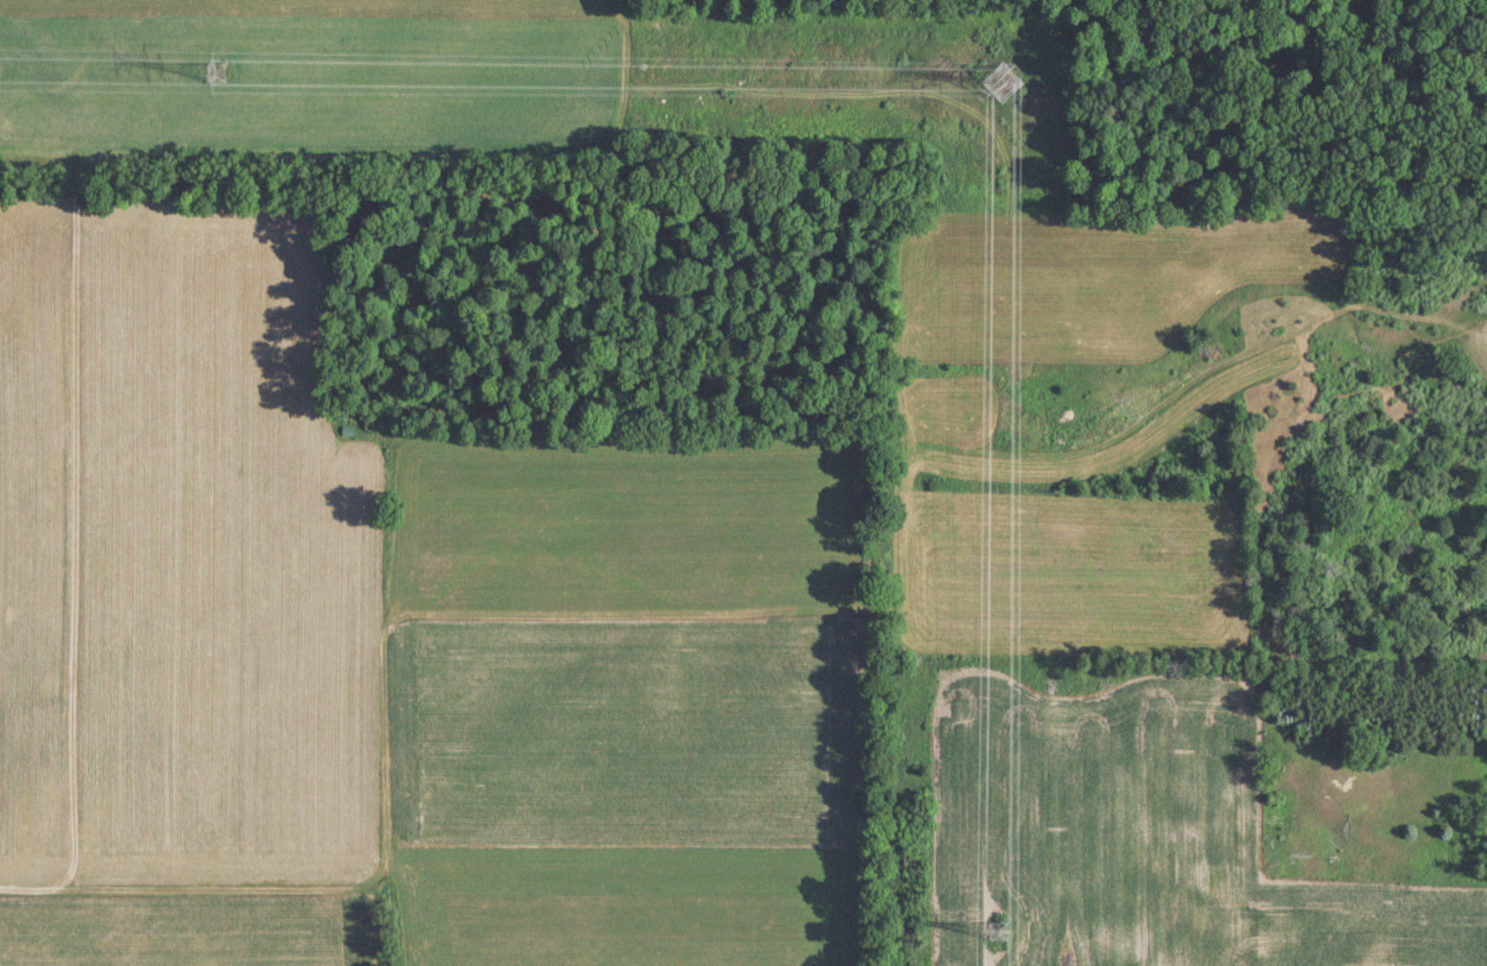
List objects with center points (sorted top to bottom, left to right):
power tower: (218, 69)
power tower: (1007, 77)
power tower: (1000, 929)

